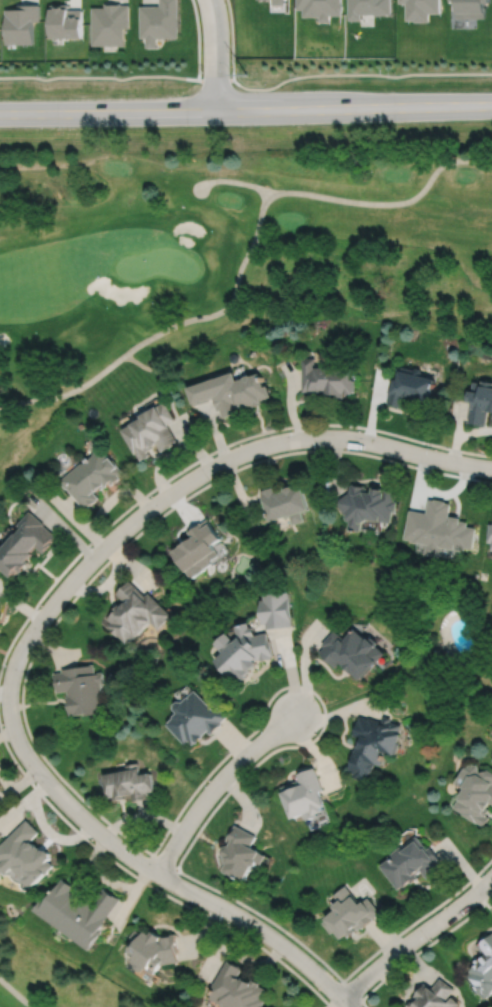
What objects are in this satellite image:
building: (278, 2)
building: (368, 7)
building: (321, 8)
building: (471, 8)
building: (421, 9)
building: (64, 21)
building: (159, 21)
building: (20, 23)
building: (109, 24)
road: (232, 38)
road: (198, 39)
road: (215, 55)
road: (359, 73)
power tower: (248, 74)
road: (116, 77)
road: (440, 106)
road: (194, 111)
road: (235, 180)
road: (273, 195)
park: (224, 252)
road: (152, 368)
building: (329, 376)
building: (412, 385)
building: (232, 389)
road: (66, 392)
building: (482, 402)
building: (151, 428)
road: (386, 445)
road: (204, 456)
building: (91, 475)
building: (287, 500)
building: (368, 503)
building: (441, 527)
building: (490, 532)
building: (25, 542)
building: (491, 545)
building: (199, 547)
building: (276, 608)
building: (136, 611)
building: (243, 650)
building: (353, 650)
building: (81, 688)
building: (194, 717)
road: (16, 738)
building: (375, 744)
building: (130, 783)
road: (215, 784)
building: (475, 793)
building: (305, 795)
road: (179, 812)
building: (241, 853)
building: (26, 854)
road: (163, 861)
building: (412, 863)
road: (149, 884)
building: (78, 912)
building: (351, 914)
road: (416, 936)
road: (421, 948)
building: (154, 951)
building: (482, 969)
park: (47, 978)
building: (237, 989)
road: (352, 990)
road: (16, 994)
building: (435, 996)

